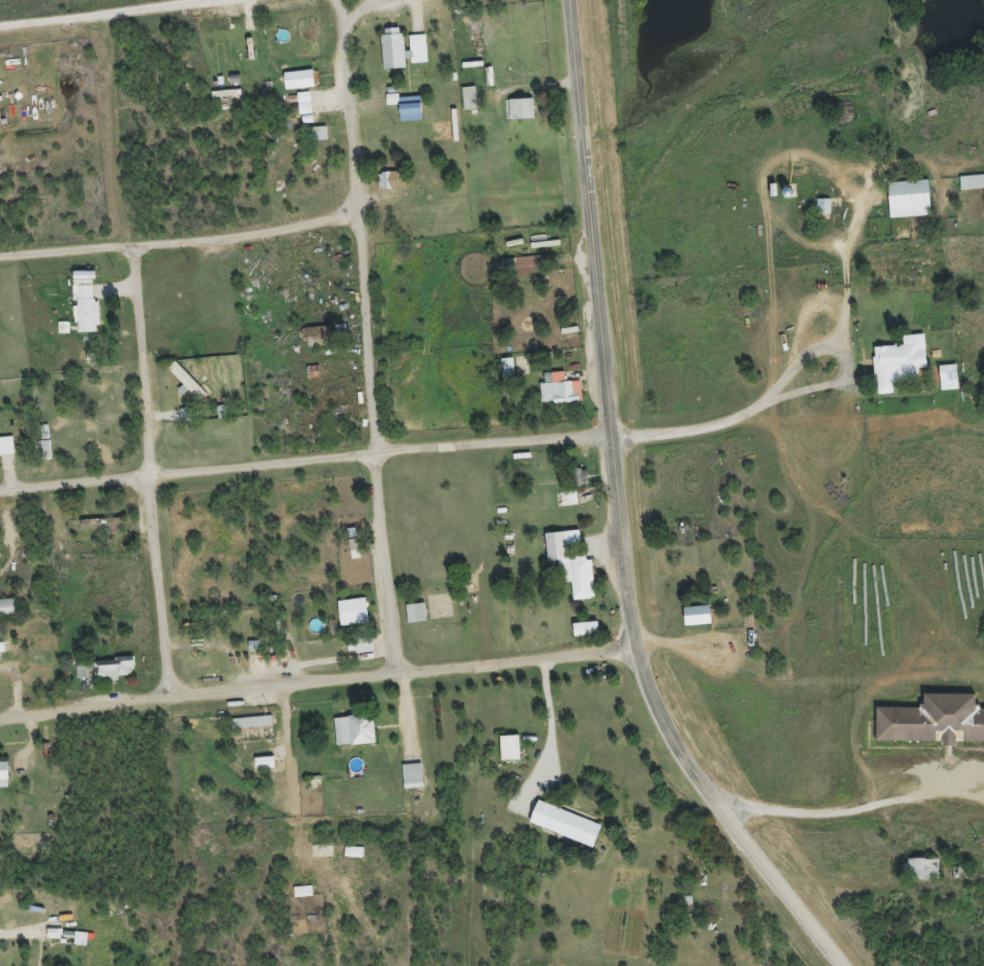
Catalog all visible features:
road: (111, 14)
building: (399, 57)
building: (296, 87)
building: (467, 106)
building: (302, 110)
building: (403, 114)
building: (518, 116)
road: (115, 132)
building: (318, 140)
building: (388, 188)
building: (906, 206)
building: (821, 214)
road: (182, 245)
building: (82, 310)
road: (843, 333)
road: (374, 339)
building: (315, 343)
building: (896, 370)
building: (505, 375)
road: (787, 375)
building: (946, 385)
building: (187, 391)
building: (557, 396)
building: (5, 453)
road: (304, 463)
road: (157, 473)
building: (566, 506)
road: (618, 514)
building: (569, 571)
building: (5, 614)
building: (350, 619)
building: (413, 620)
building: (694, 623)
building: (583, 636)
building: (362, 655)
building: (110, 676)
building: (80, 680)
road: (317, 685)
building: (931, 727)
building: (250, 730)
building: (352, 738)
building: (507, 755)
building: (261, 770)
building: (2, 782)
building: (410, 784)
road: (853, 811)
building: (563, 831)
building: (319, 858)
building: (918, 875)
building: (300, 899)
building: (78, 946)

